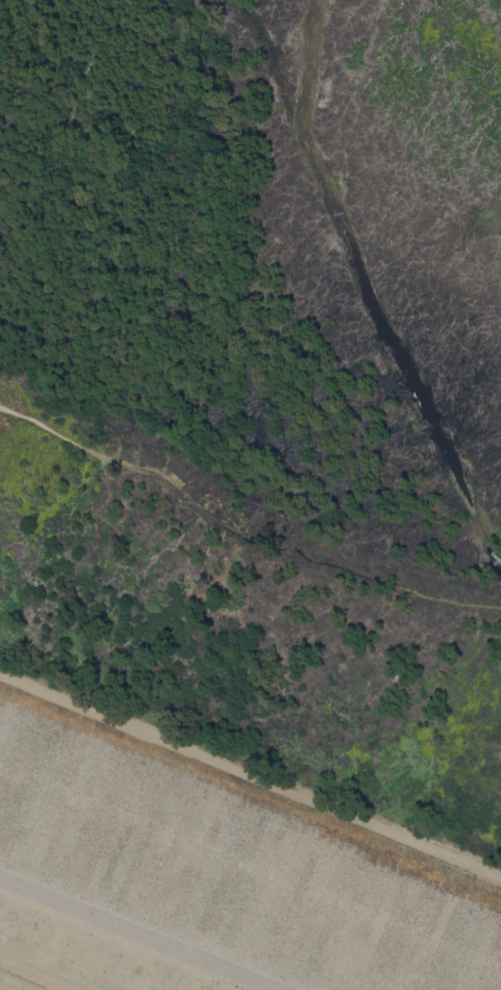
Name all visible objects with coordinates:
dam: (250, 704)
road: (250, 776)
park: (205, 908)
park: (205, 908)
road: (139, 933)
road: (31, 977)

